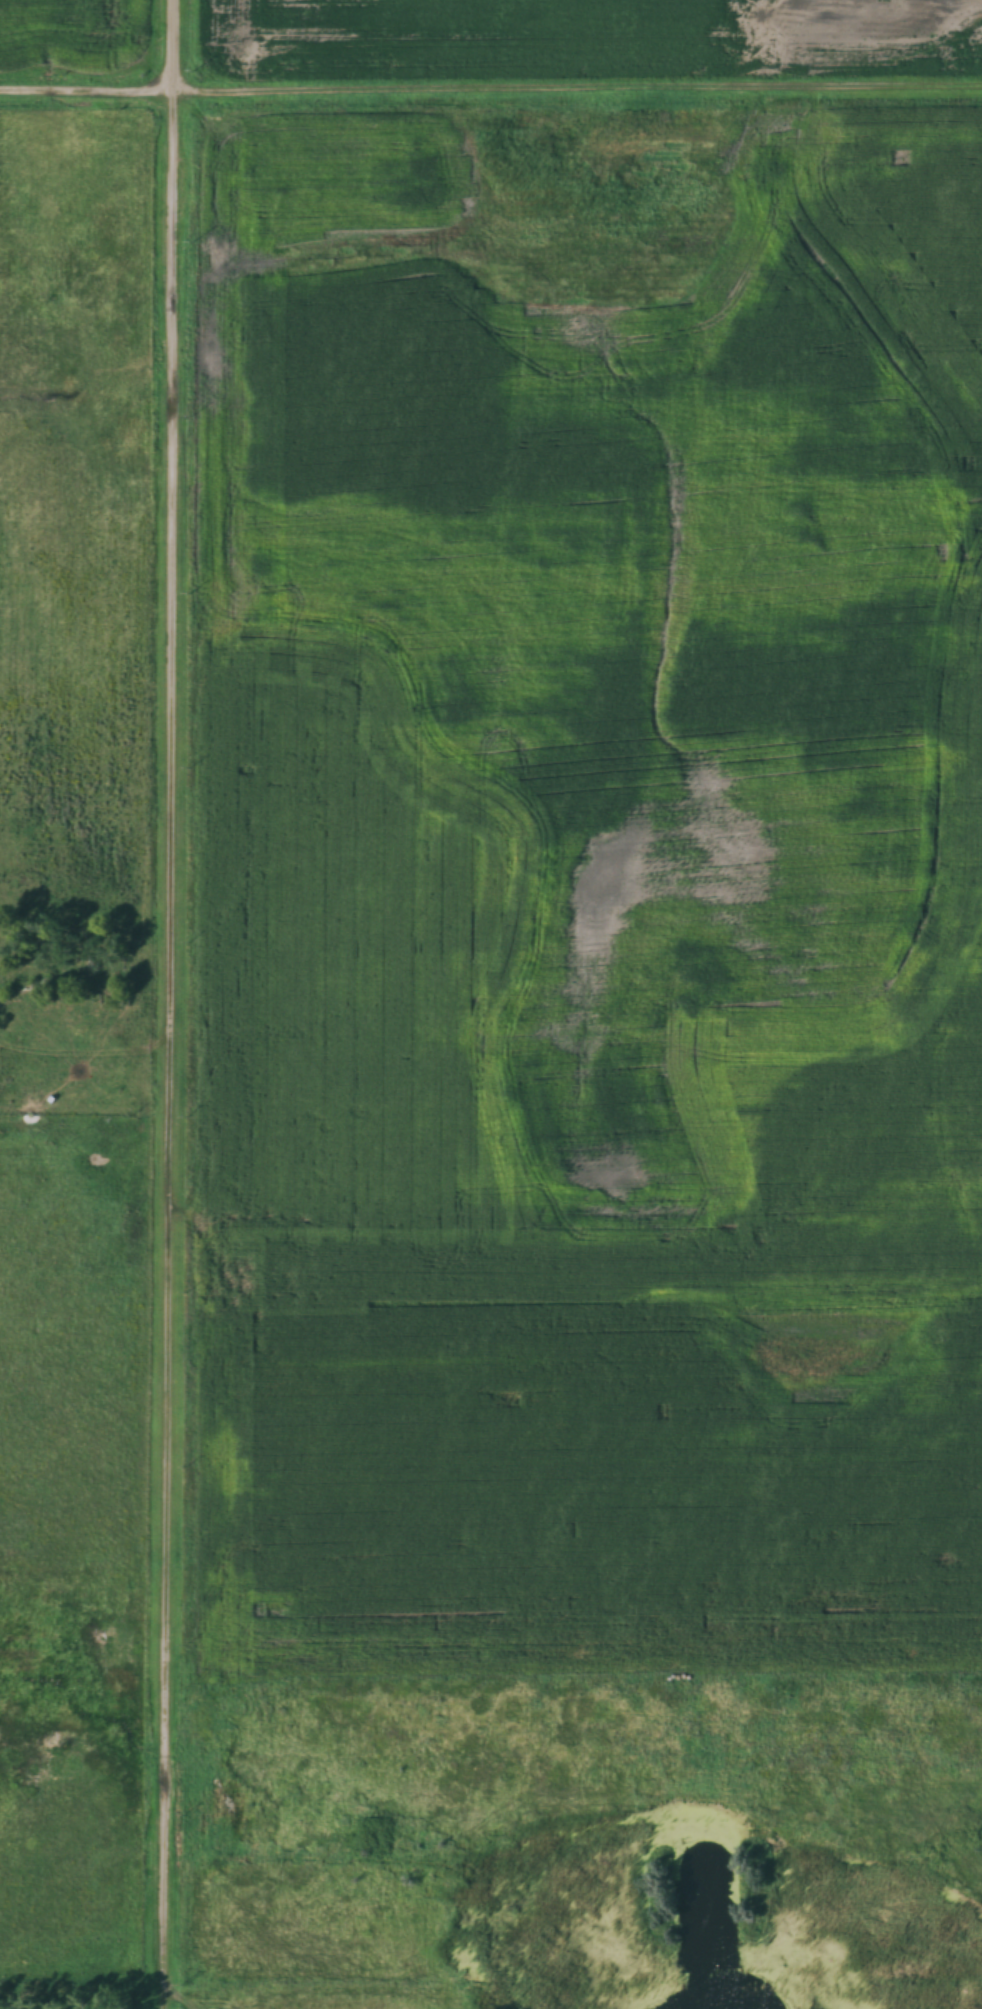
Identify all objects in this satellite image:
road: (89, 91)
road: (580, 91)
road: (177, 1004)

